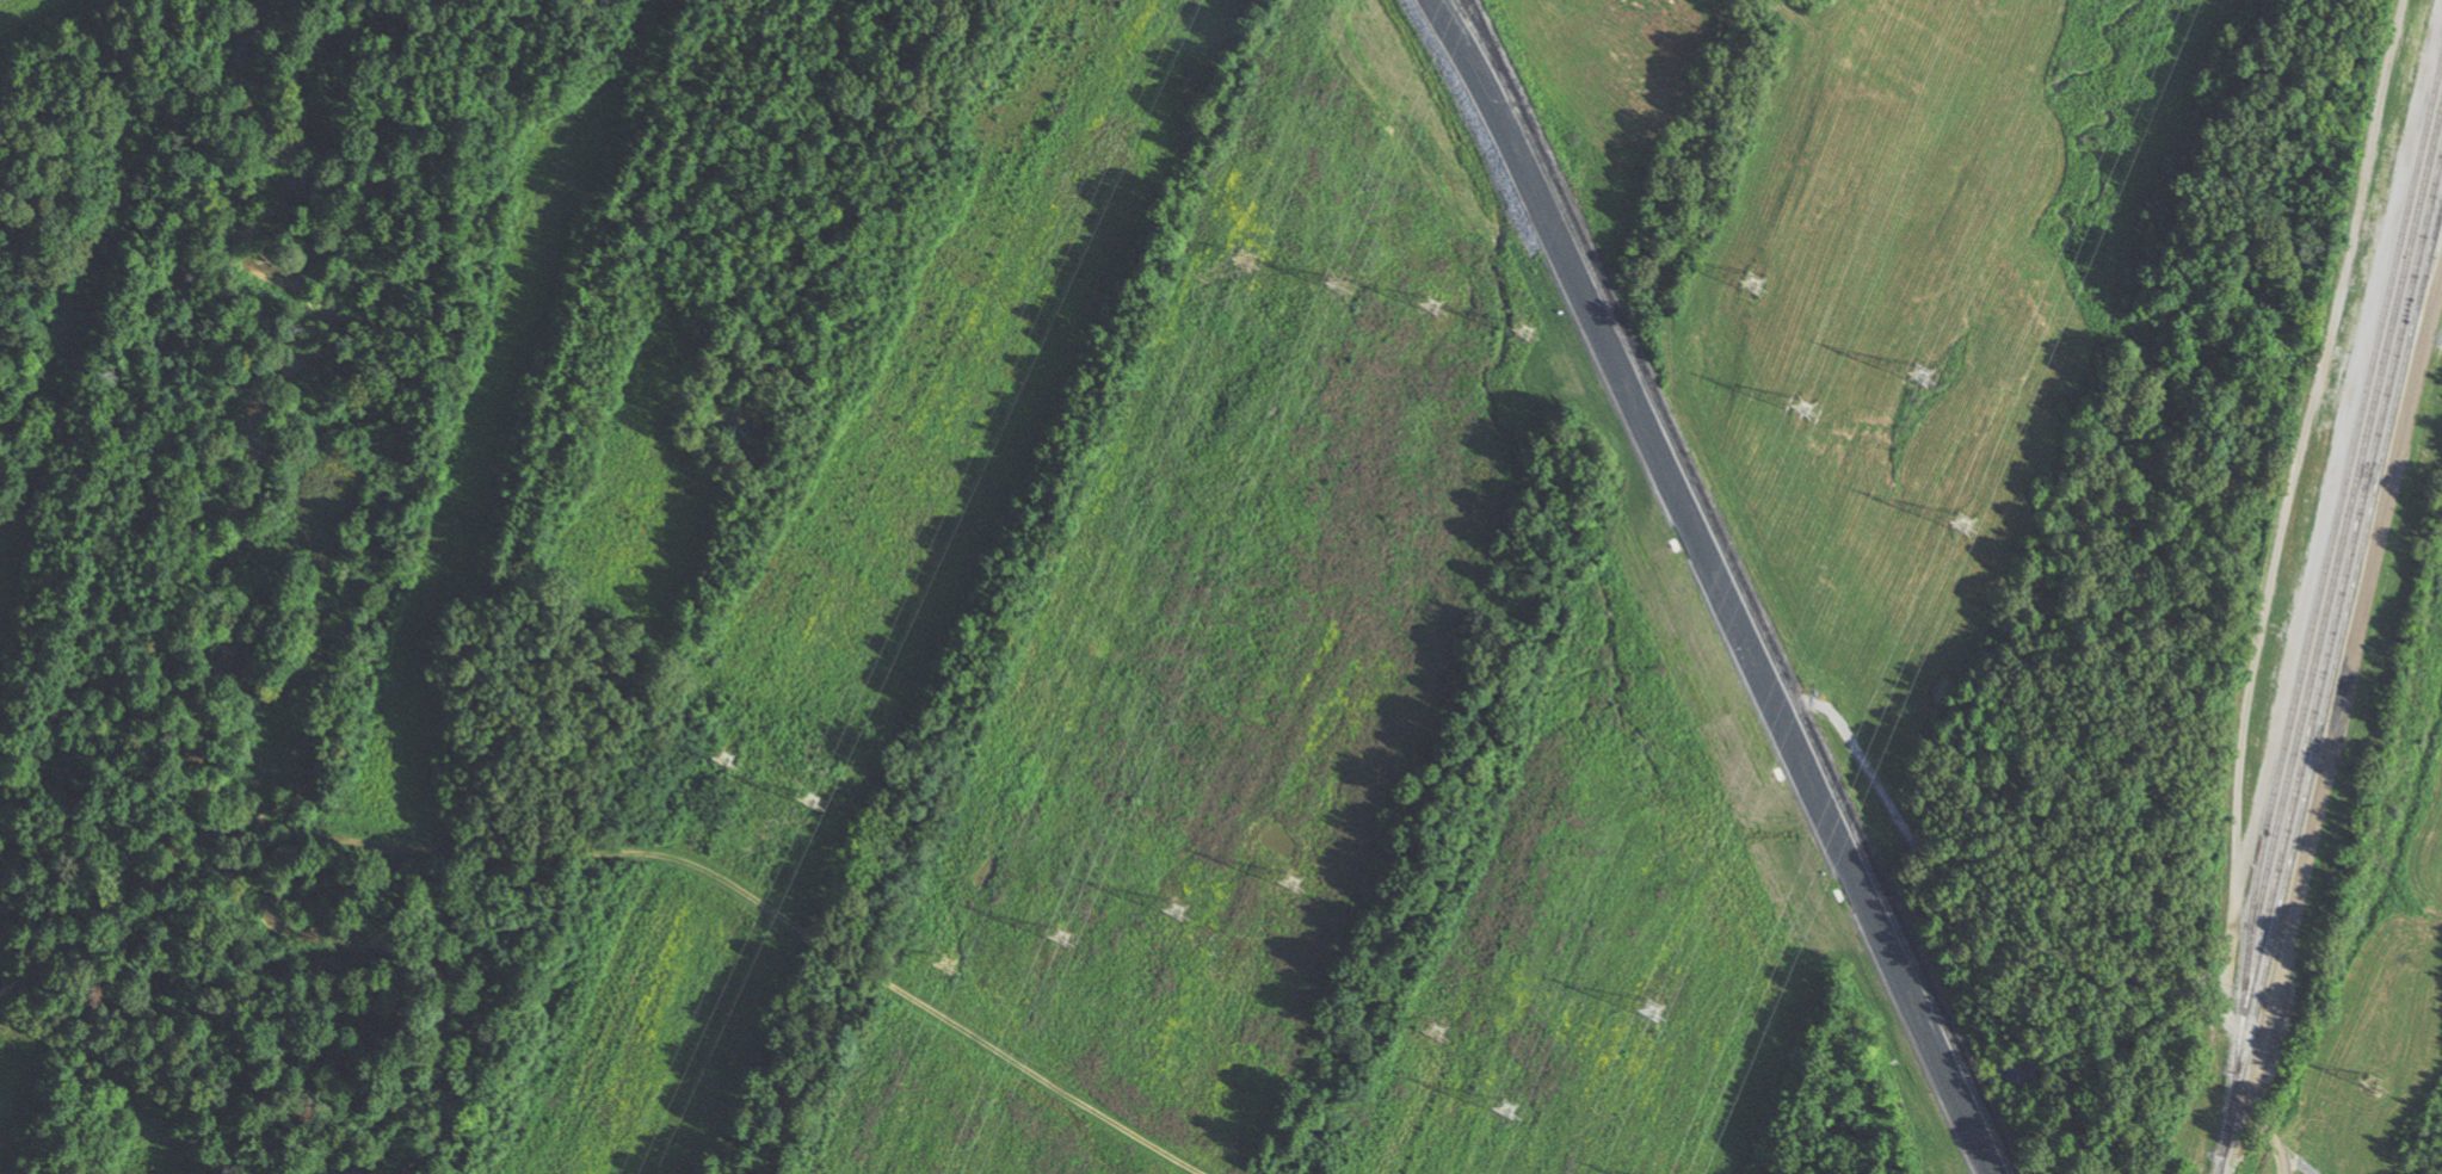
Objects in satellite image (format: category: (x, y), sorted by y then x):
railway: (1467, 11)
railway: (1488, 50)
railway: (2436, 229)
railway: (2436, 239)
power tower: (1245, 261)
power tower: (1334, 285)
power tower: (1751, 286)
power tower: (1522, 333)
power tower: (1433, 334)
power tower: (1916, 377)
power tower: (1802, 409)
power tower: (1965, 523)
railway: (2341, 545)
railway: (1741, 587)
railway: (2317, 599)
railway: (2337, 605)
railway: (2325, 703)
power tower: (723, 760)
power tower: (809, 799)
road: (602, 844)
power tower: (1291, 882)
power tower: (1177, 937)
power tower: (1061, 938)
power tower: (944, 965)
power tower: (1651, 1012)
power tower: (1435, 1031)
power tower: (2372, 1082)
power tower: (1505, 1110)
railway: (2221, 1162)

